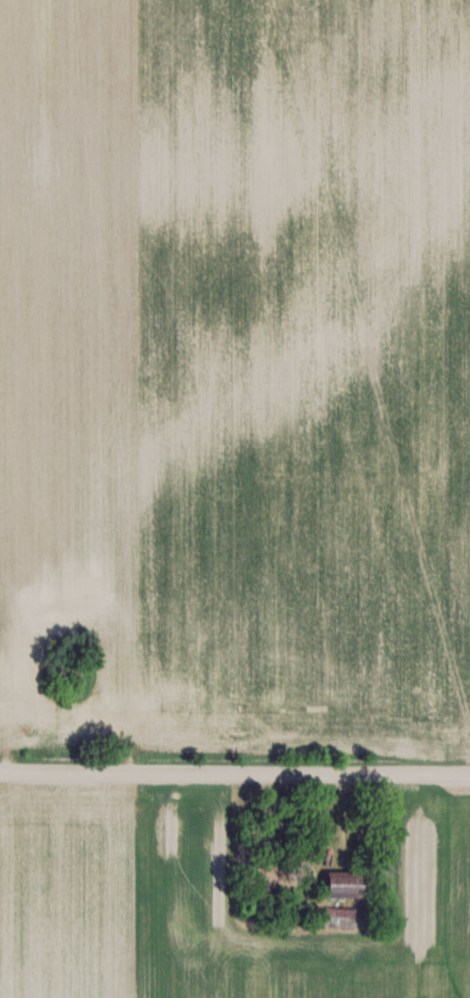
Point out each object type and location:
road: (235, 770)
building: (343, 896)

